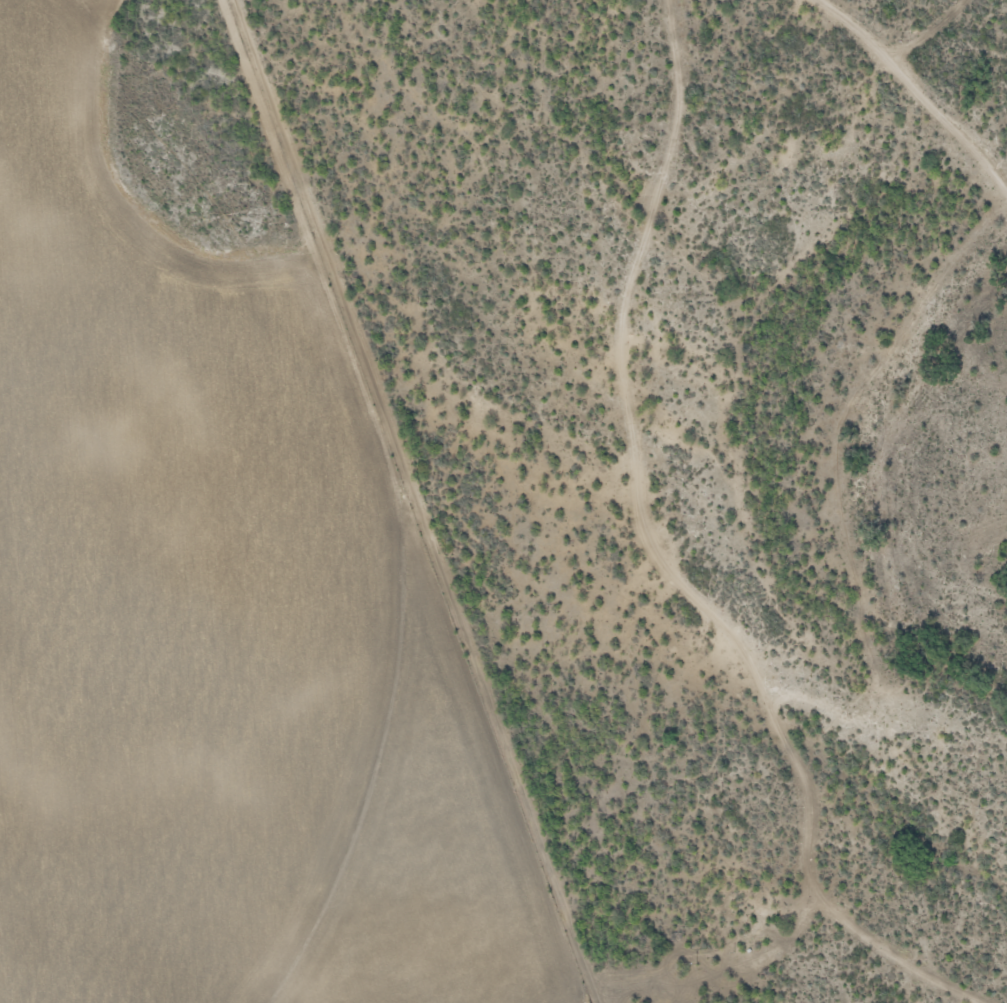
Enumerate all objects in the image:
road: (920, 95)

